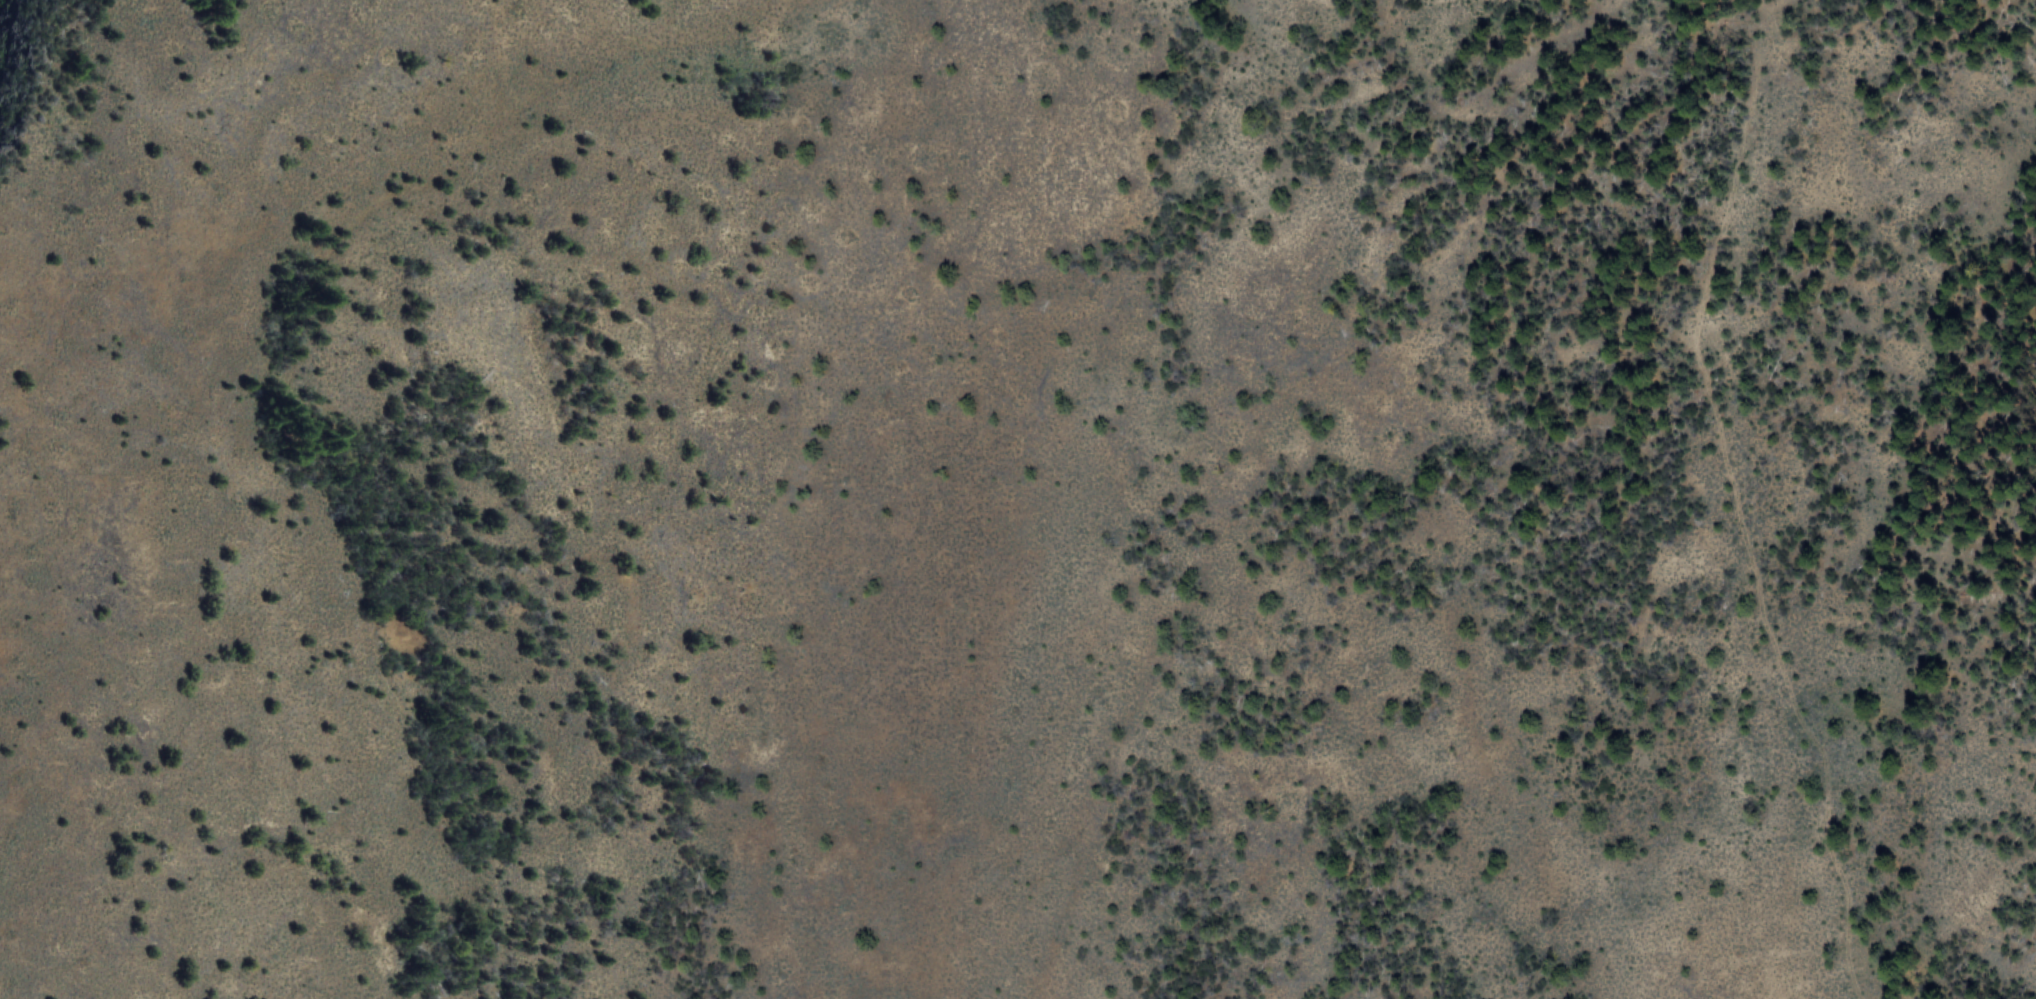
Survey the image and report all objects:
road: (1749, 562)

